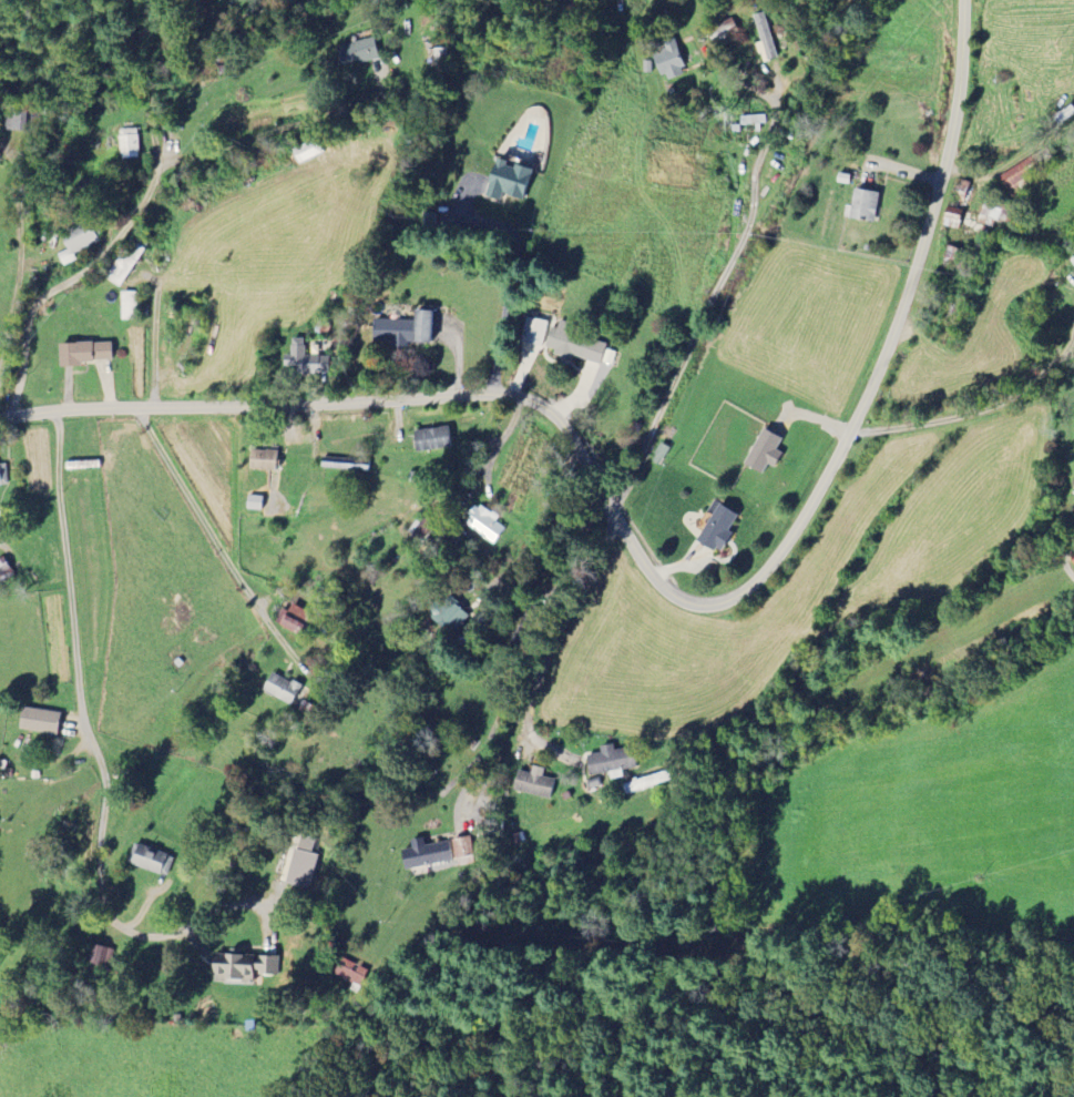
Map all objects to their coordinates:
road: (167, 32)
building: (765, 37)
building: (357, 52)
building: (669, 61)
building: (646, 67)
road: (282, 126)
building: (129, 143)
building: (306, 152)
building: (1019, 175)
building: (507, 181)
building: (961, 194)
road: (142, 199)
building: (862, 206)
building: (990, 216)
building: (953, 217)
building: (80, 238)
road: (19, 250)
building: (125, 263)
road: (507, 285)
building: (402, 331)
building: (533, 332)
road: (699, 332)
road: (155, 334)
building: (575, 346)
road: (1067, 348)
building: (83, 353)
building: (305, 360)
road: (984, 404)
building: (431, 439)
building: (764, 453)
building: (263, 460)
building: (3, 474)
building: (484, 525)
road: (536, 526)
building: (717, 529)
road: (214, 535)
road: (1061, 553)
building: (4, 569)
road: (652, 575)
building: (449, 612)
building: (296, 620)
road: (553, 643)
building: (280, 688)
road: (509, 689)
building: (39, 720)
road: (94, 748)
building: (611, 761)
building: (533, 783)
building: (463, 851)
building: (425, 853)
building: (152, 860)
building: (304, 862)
building: (101, 956)
building: (242, 966)
building: (351, 973)

